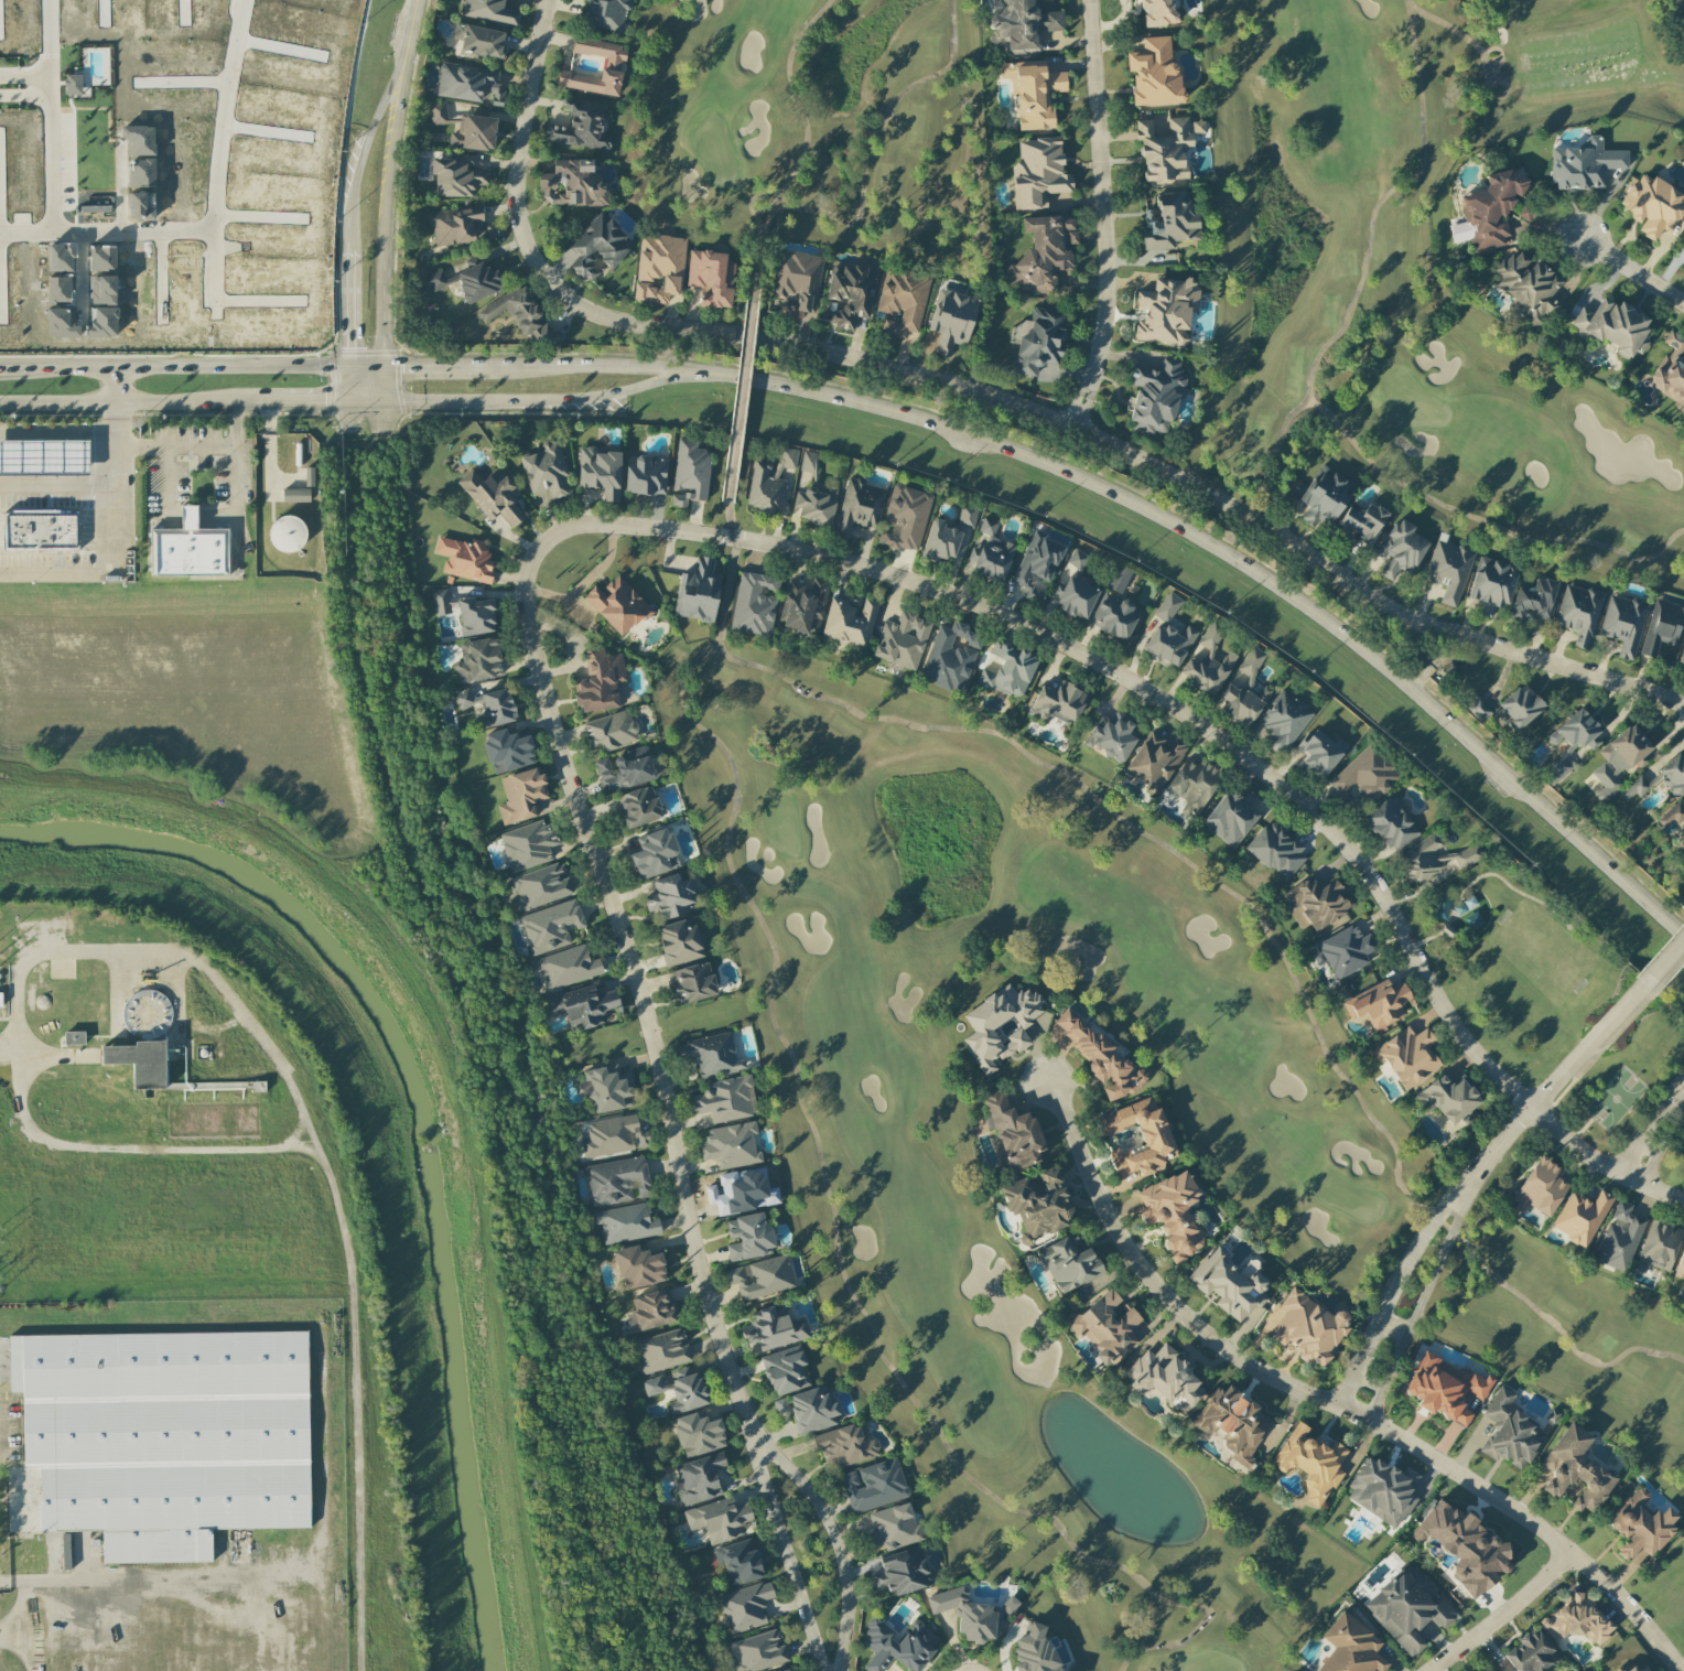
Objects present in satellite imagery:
building: (489, 11)
building: (1159, 12)
road: (413, 14)
building: (605, 14)
building: (1022, 24)
building: (479, 41)
building: (613, 64)
building: (1154, 73)
building: (468, 84)
road: (29, 86)
road: (39, 86)
building: (1033, 93)
building: (440, 115)
road: (515, 119)
building: (581, 127)
building: (1197, 127)
building: (474, 133)
road: (366, 134)
building: (1164, 149)
building: (1585, 164)
building: (1039, 174)
building: (457, 175)
building: (572, 184)
building: (1653, 205)
building: (1491, 209)
building: (1526, 213)
road: (1098, 214)
road: (386, 215)
building: (1169, 222)
building: (454, 225)
building: (489, 230)
road: (132, 231)
road: (758, 233)
building: (598, 246)
building: (1683, 248)
building: (1043, 252)
building: (659, 268)
park: (1422, 269)
road: (1631, 270)
building: (711, 278)
building: (477, 280)
building: (434, 281)
building: (798, 282)
building: (1529, 287)
building: (851, 294)
building: (902, 301)
road: (347, 306)
building: (1165, 312)
building: (520, 315)
building: (951, 320)
building: (1613, 327)
building: (1037, 339)
traffic signals: (347, 347)
road: (364, 366)
traffic signals: (401, 366)
road: (3, 367)
building: (1671, 370)
road: (741, 371)
road: (347, 384)
road: (116, 385)
road: (624, 390)
building: (1155, 397)
road: (516, 401)
road: (129, 402)
road: (322, 402)
traffic signals: (325, 402)
road: (444, 402)
road: (57, 431)
road: (1107, 438)
road: (176, 448)
road: (267, 449)
building: (43, 457)
building: (809, 462)
building: (546, 471)
building: (600, 472)
building: (690, 473)
building: (645, 475)
building: (309, 476)
road: (116, 479)
road: (57, 482)
building: (770, 482)
road: (168, 483)
road: (237, 488)
building: (493, 493)
building: (295, 495)
building: (1325, 496)
building: (816, 505)
building: (860, 506)
building: (906, 517)
building: (967, 517)
road: (202, 518)
building: (1361, 524)
building: (41, 532)
building: (287, 533)
building: (941, 541)
building: (1400, 549)
building: (187, 551)
building: (991, 553)
building: (465, 559)
building: (1077, 560)
building: (1037, 561)
road: (1238, 562)
building: (1448, 570)
road: (62, 572)
road: (728, 575)
building: (1120, 580)
building: (1491, 584)
building: (698, 592)
building: (1075, 597)
building: (441, 599)
building: (1533, 600)
building: (754, 603)
building: (617, 605)
building: (803, 606)
building: (1167, 607)
building: (1579, 613)
building: (475, 616)
building: (1114, 616)
building: (849, 621)
building: (1623, 624)
building: (1663, 627)
building: (902, 640)
building: (1169, 645)
building: (950, 657)
building: (1682, 658)
building: (478, 660)
building: (1209, 662)
building: (1008, 670)
building: (600, 681)
building: (1245, 691)
building: (1057, 703)
building: (488, 707)
building: (1520, 707)
building: (1478, 709)
road: (1174, 714)
building: (1284, 720)
building: (611, 731)
building: (1111, 736)
building: (1570, 742)
building: (507, 751)
building: (1320, 752)
building: (1155, 759)
building: (1620, 759)
building: (624, 769)
building: (1365, 775)
building: (1673, 775)
building: (1192, 785)
building: (1634, 788)
building: (521, 795)
building: (637, 808)
building: (1673, 815)
building: (1231, 817)
building: (1391, 823)
building: (528, 844)
building: (1276, 851)
building: (655, 854)
building: (1435, 858)
building: (540, 886)
building: (670, 897)
building: (1316, 904)
building: (550, 926)
road: (1674, 927)
building: (679, 941)
building: (1346, 950)
park: (1025, 962)
road: (1663, 962)
building: (566, 968)
building: (692, 983)
building: (0, 999)
building: (1378, 1004)
building: (582, 1006)
building: (1002, 1026)
road: (261, 1034)
building: (74, 1037)
road: (48, 1056)
building: (711, 1056)
building: (1408, 1057)
building: (1101, 1058)
building: (139, 1063)
road: (1559, 1076)
road: (1683, 1080)
road: (1672, 1088)
building: (608, 1089)
road: (1678, 1092)
building: (1447, 1098)
building: (725, 1100)
road: (1655, 1107)
road: (1663, 1112)
road: (668, 1126)
river: (407, 1130)
building: (1012, 1132)
building: (614, 1136)
building: (1155, 1139)
building: (732, 1145)
road: (1634, 1146)
road: (1660, 1147)
building: (616, 1181)
building: (1540, 1188)
building: (1037, 1204)
building: (1173, 1214)
building: (1580, 1217)
building: (625, 1223)
building: (748, 1237)
building: (1620, 1237)
building: (1660, 1244)
building: (1069, 1263)
road: (1404, 1264)
building: (1680, 1266)
building: (638, 1268)
building: (760, 1277)
road: (1431, 1279)
building: (1229, 1285)
building: (650, 1312)
road: (1393, 1324)
building: (1107, 1327)
building: (774, 1328)
building: (661, 1351)
building: (785, 1370)
building: (1164, 1377)
road: (1367, 1383)
building: (1444, 1388)
building: (679, 1389)
road: (1343, 1391)
road: (356, 1394)
road: (1321, 1400)
building: (780, 1405)
road: (1374, 1405)
building: (812, 1410)
building: (1232, 1423)
building: (1510, 1433)
building: (698, 1434)
building: (161, 1438)
building: (844, 1445)
building: (1311, 1463)
building: (1575, 1470)
building: (699, 1478)
building: (873, 1485)
building: (1383, 1490)
road: (820, 1512)
building: (719, 1519)
building: (1640, 1526)
building: (894, 1527)
building: (1465, 1548)
road: (237, 1557)
building: (738, 1562)
building: (900, 1573)
road: (80, 1580)
road: (248, 1587)
building: (1008, 1605)
building: (745, 1607)
road: (277, 1610)
road: (1496, 1611)
building: (967, 1615)
building: (1576, 1619)
road: (161, 1625)
road: (36, 1626)
building: (897, 1646)
building: (1350, 1647)
building: (758, 1651)
building: (1035, 1651)
building: (1531, 1653)
building: (1628, 1668)
building: (1488, 1669)
building: (1643, 1669)
building: (788, 1670)

